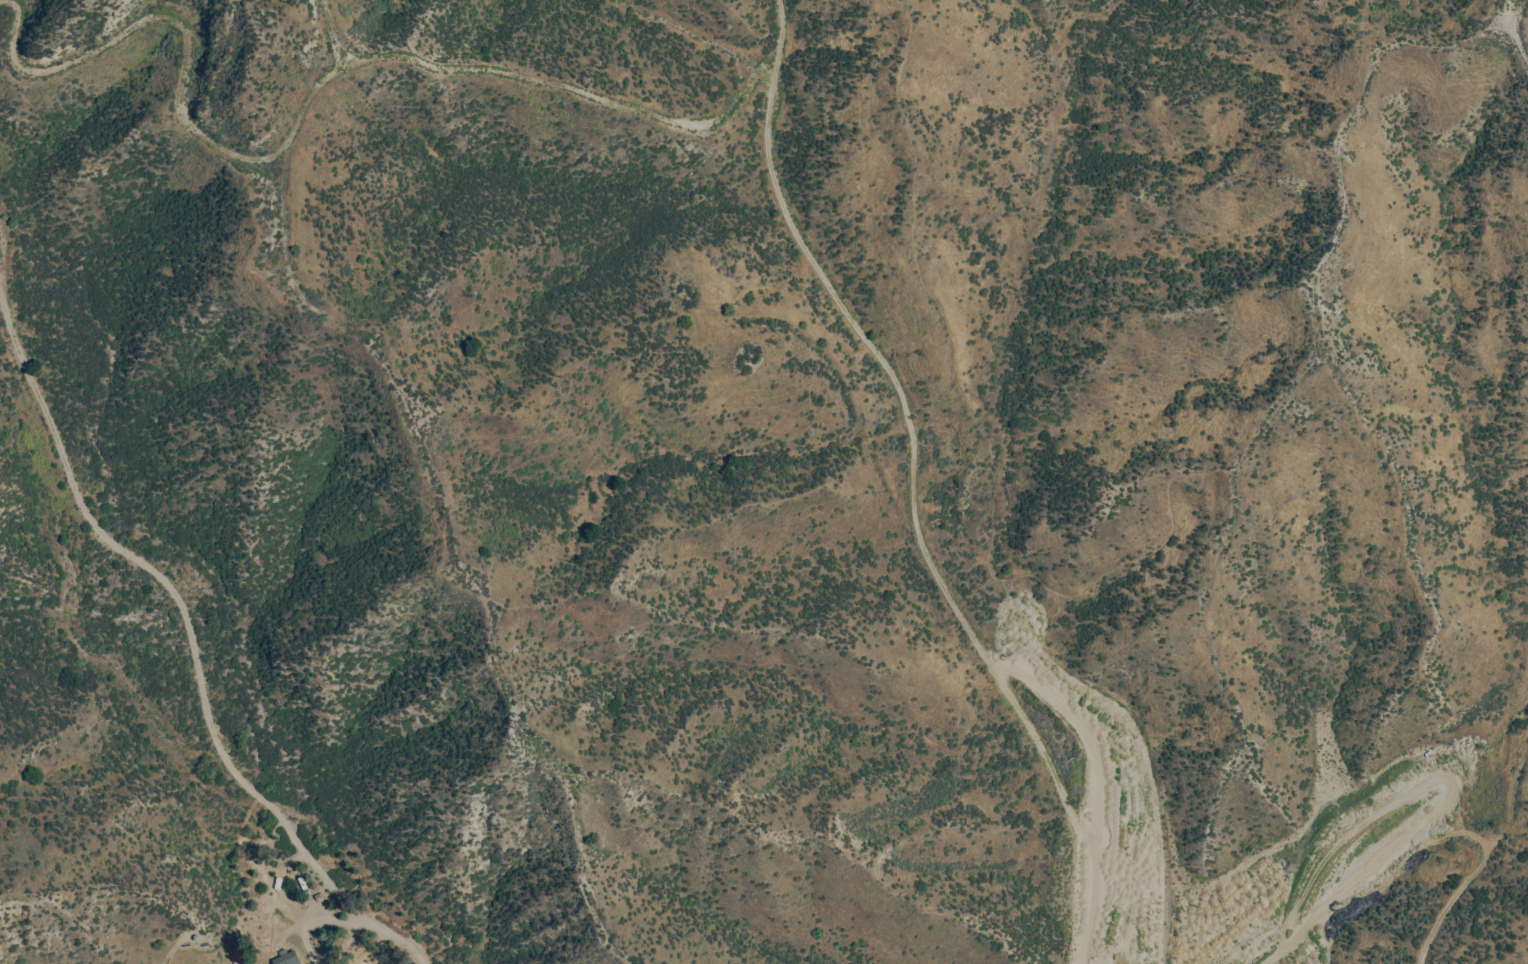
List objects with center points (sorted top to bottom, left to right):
road: (912, 484)
road: (192, 646)
road: (1440, 776)
building: (197, 936)
road: (1275, 954)
building: (287, 957)
building: (236, 962)

